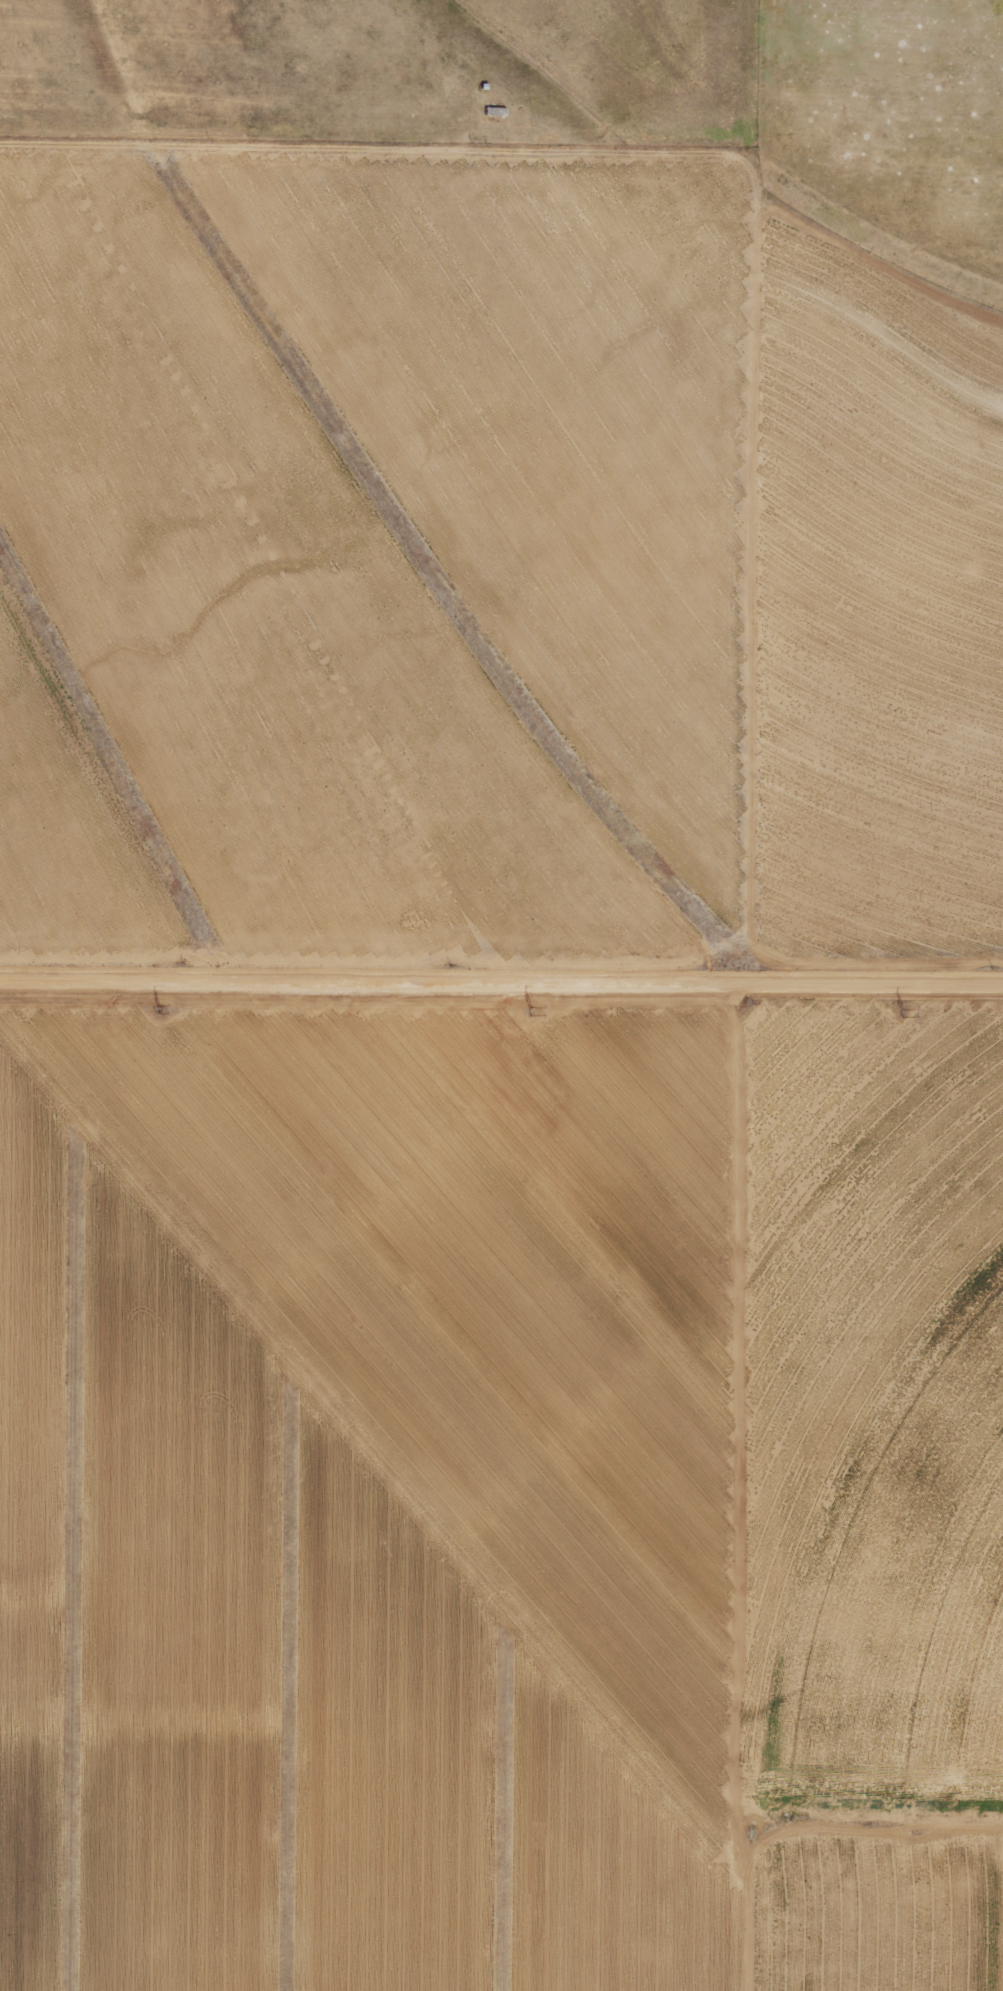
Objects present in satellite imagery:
road: (501, 981)
power tower: (150, 1009)
power tower: (896, 1011)
power tower: (527, 1014)

